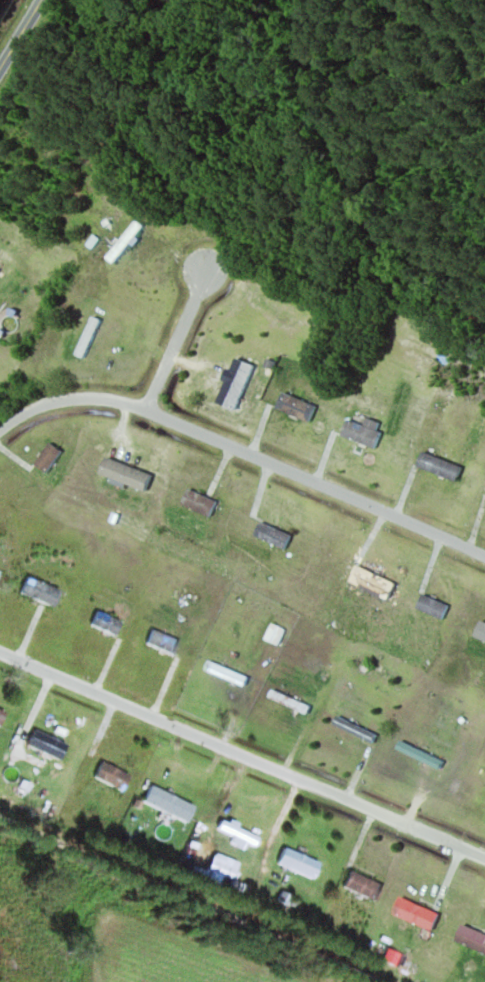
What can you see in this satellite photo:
road: (20, 34)
building: (121, 243)
building: (1, 263)
road: (175, 338)
building: (85, 339)
building: (230, 385)
building: (292, 408)
building: (358, 433)
road: (244, 454)
building: (44, 459)
building: (435, 468)
building: (120, 475)
building: (484, 495)
building: (195, 504)
building: (269, 537)
building: (369, 583)
building: (34, 591)
building: (429, 608)
building: (100, 622)
building: (478, 632)
building: (157, 642)
building: (223, 674)
building: (285, 703)
building: (0, 712)
building: (352, 731)
building: (41, 744)
building: (417, 756)
road: (242, 757)
building: (106, 776)
building: (163, 803)
building: (238, 835)
building: (294, 863)
building: (358, 886)
building: (413, 915)
building: (470, 940)

